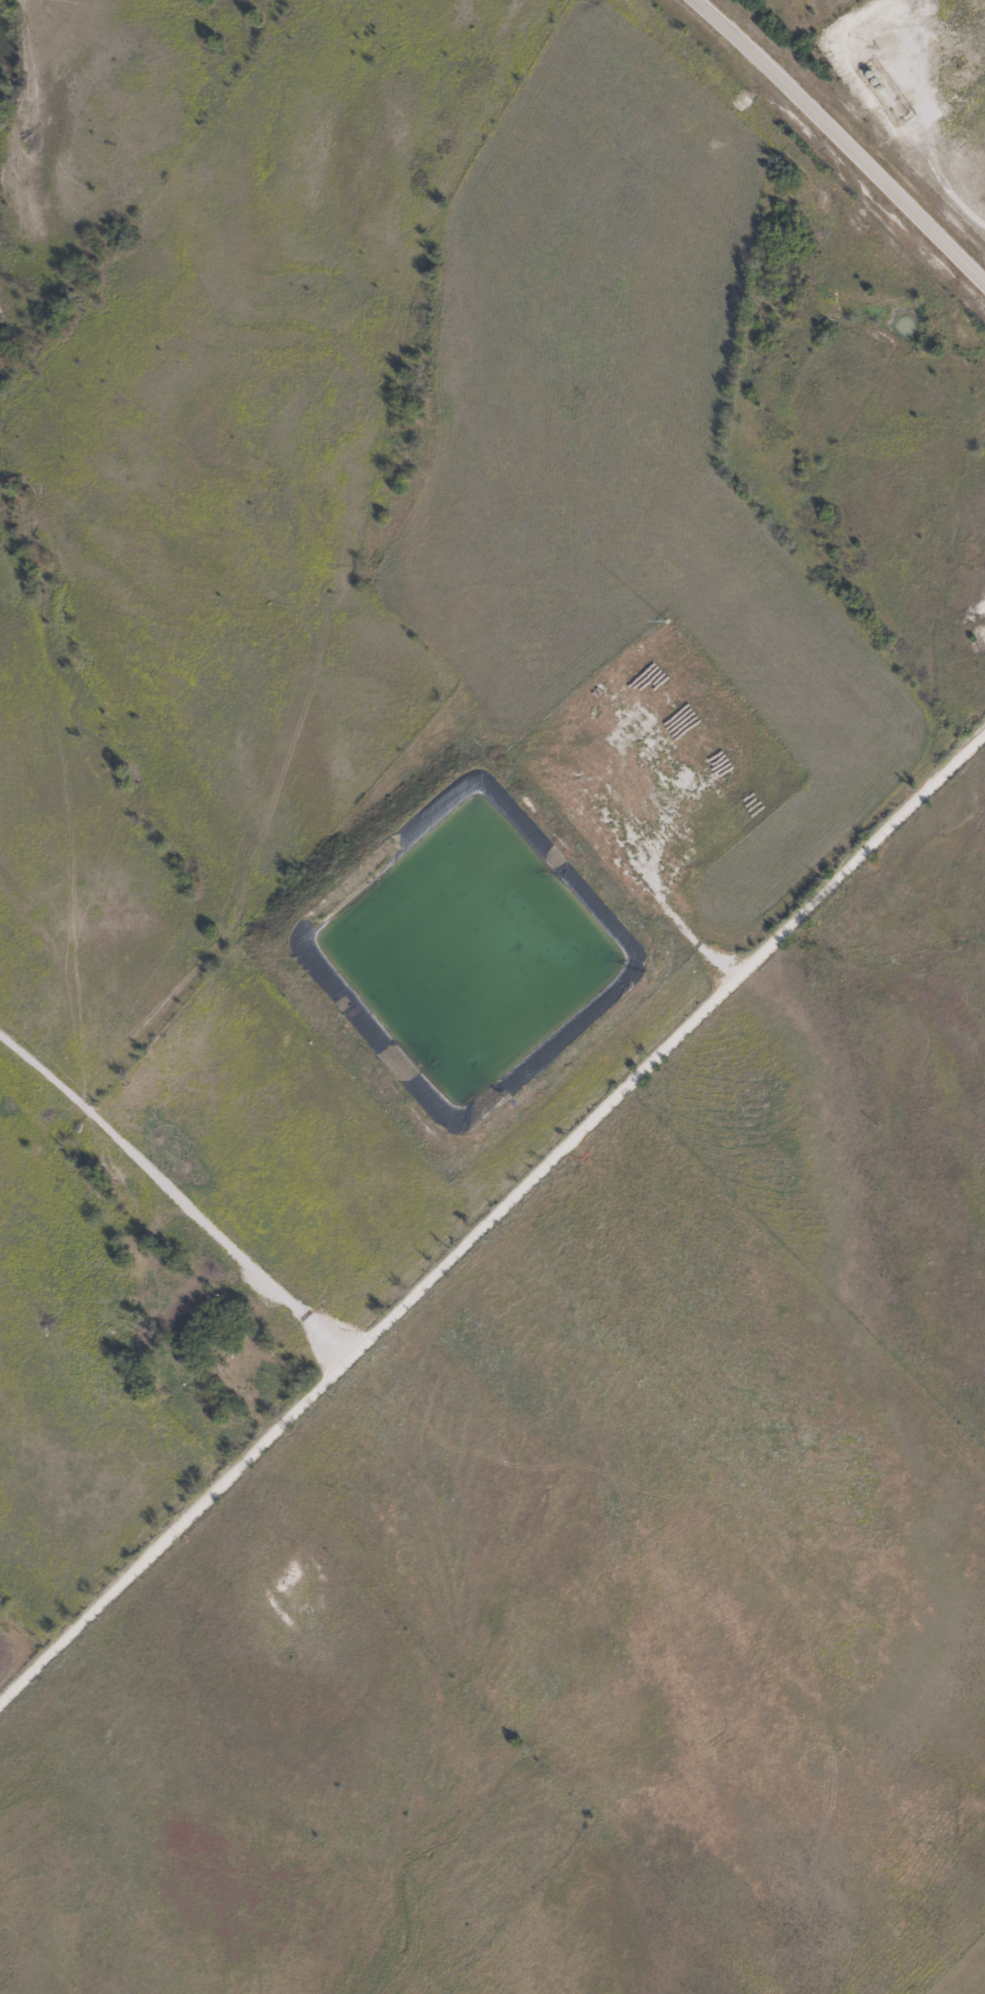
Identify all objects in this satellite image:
road: (839, 139)
building: (786, 768)
road: (173, 1198)
road: (492, 1214)

